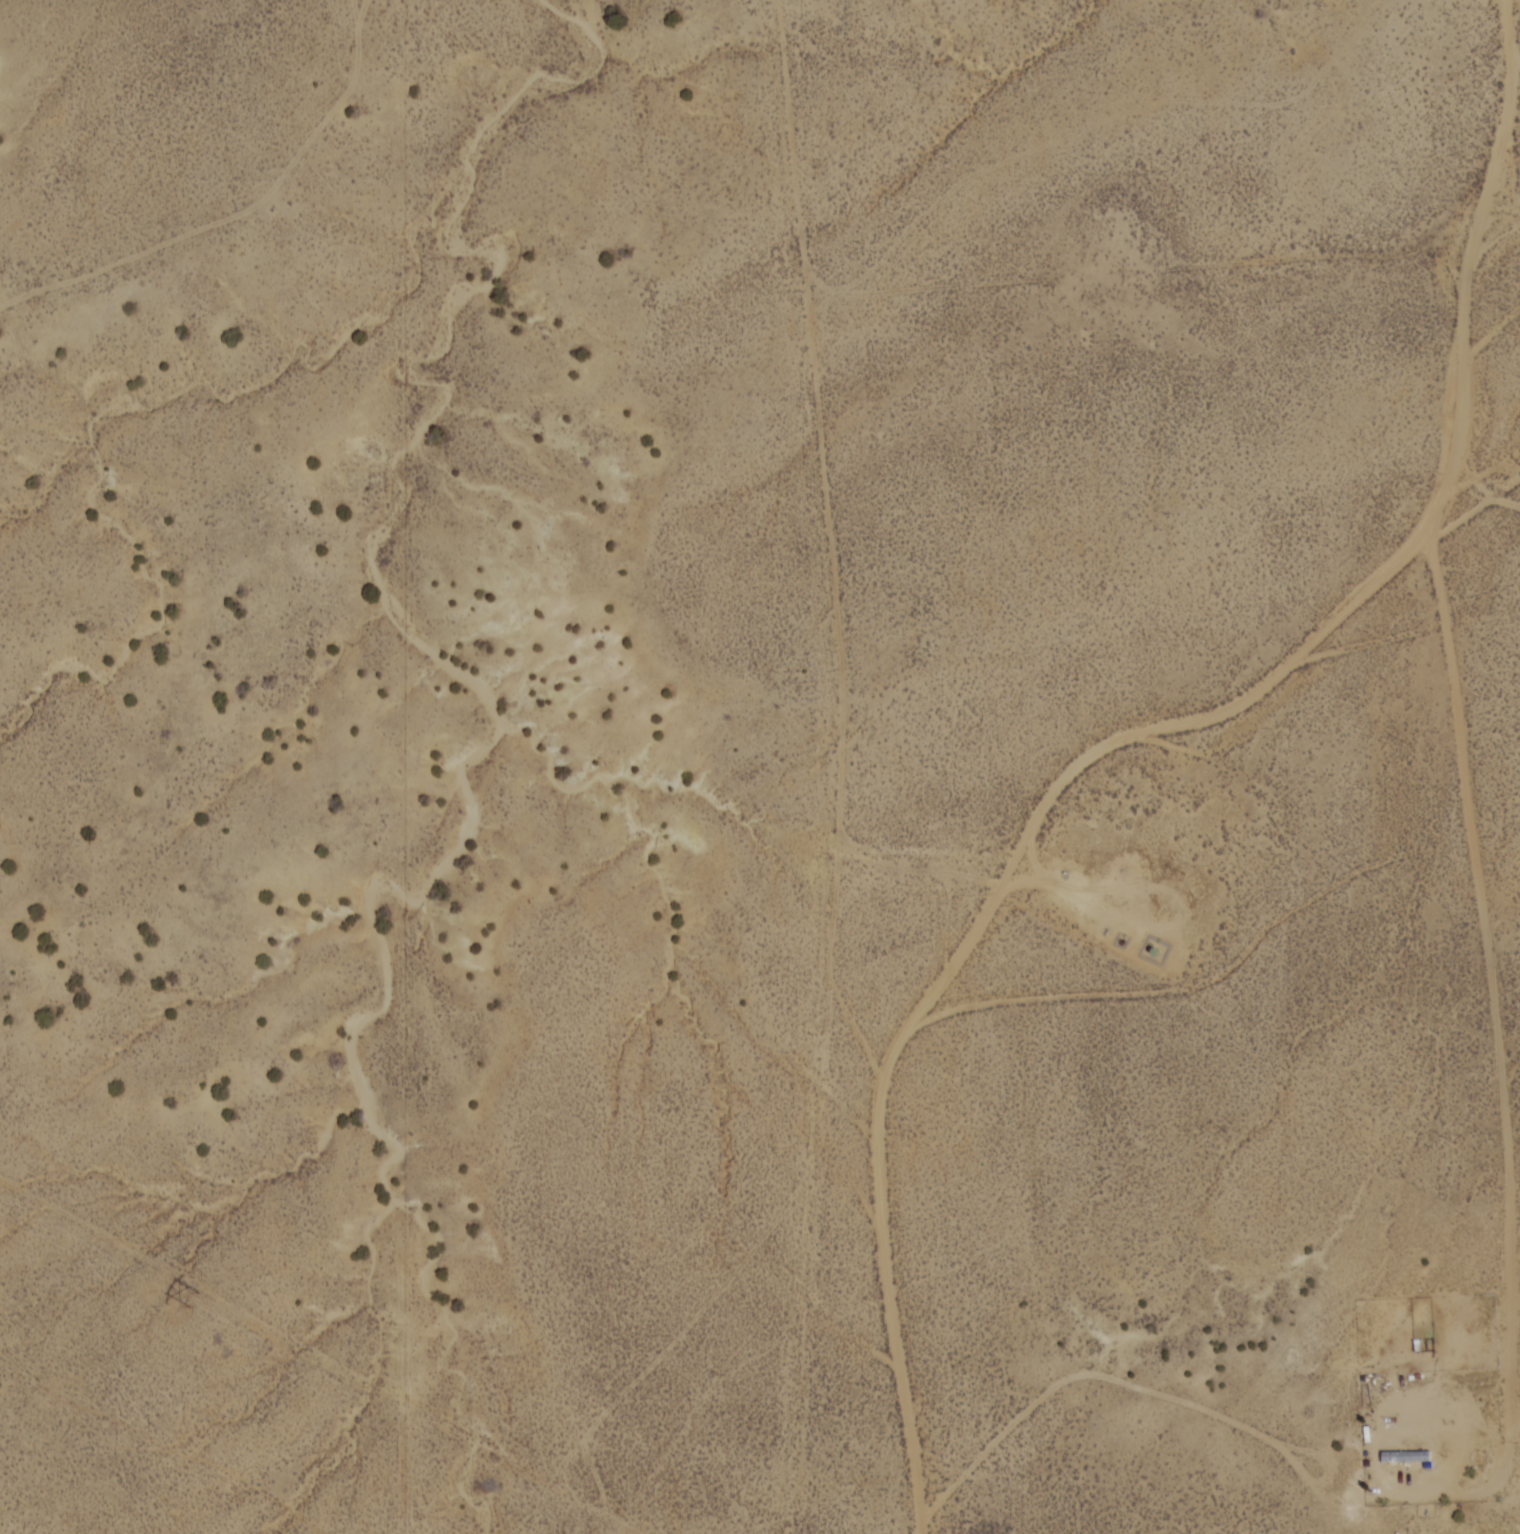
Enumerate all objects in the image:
power tower: (189, 1300)
building: (1404, 1458)

